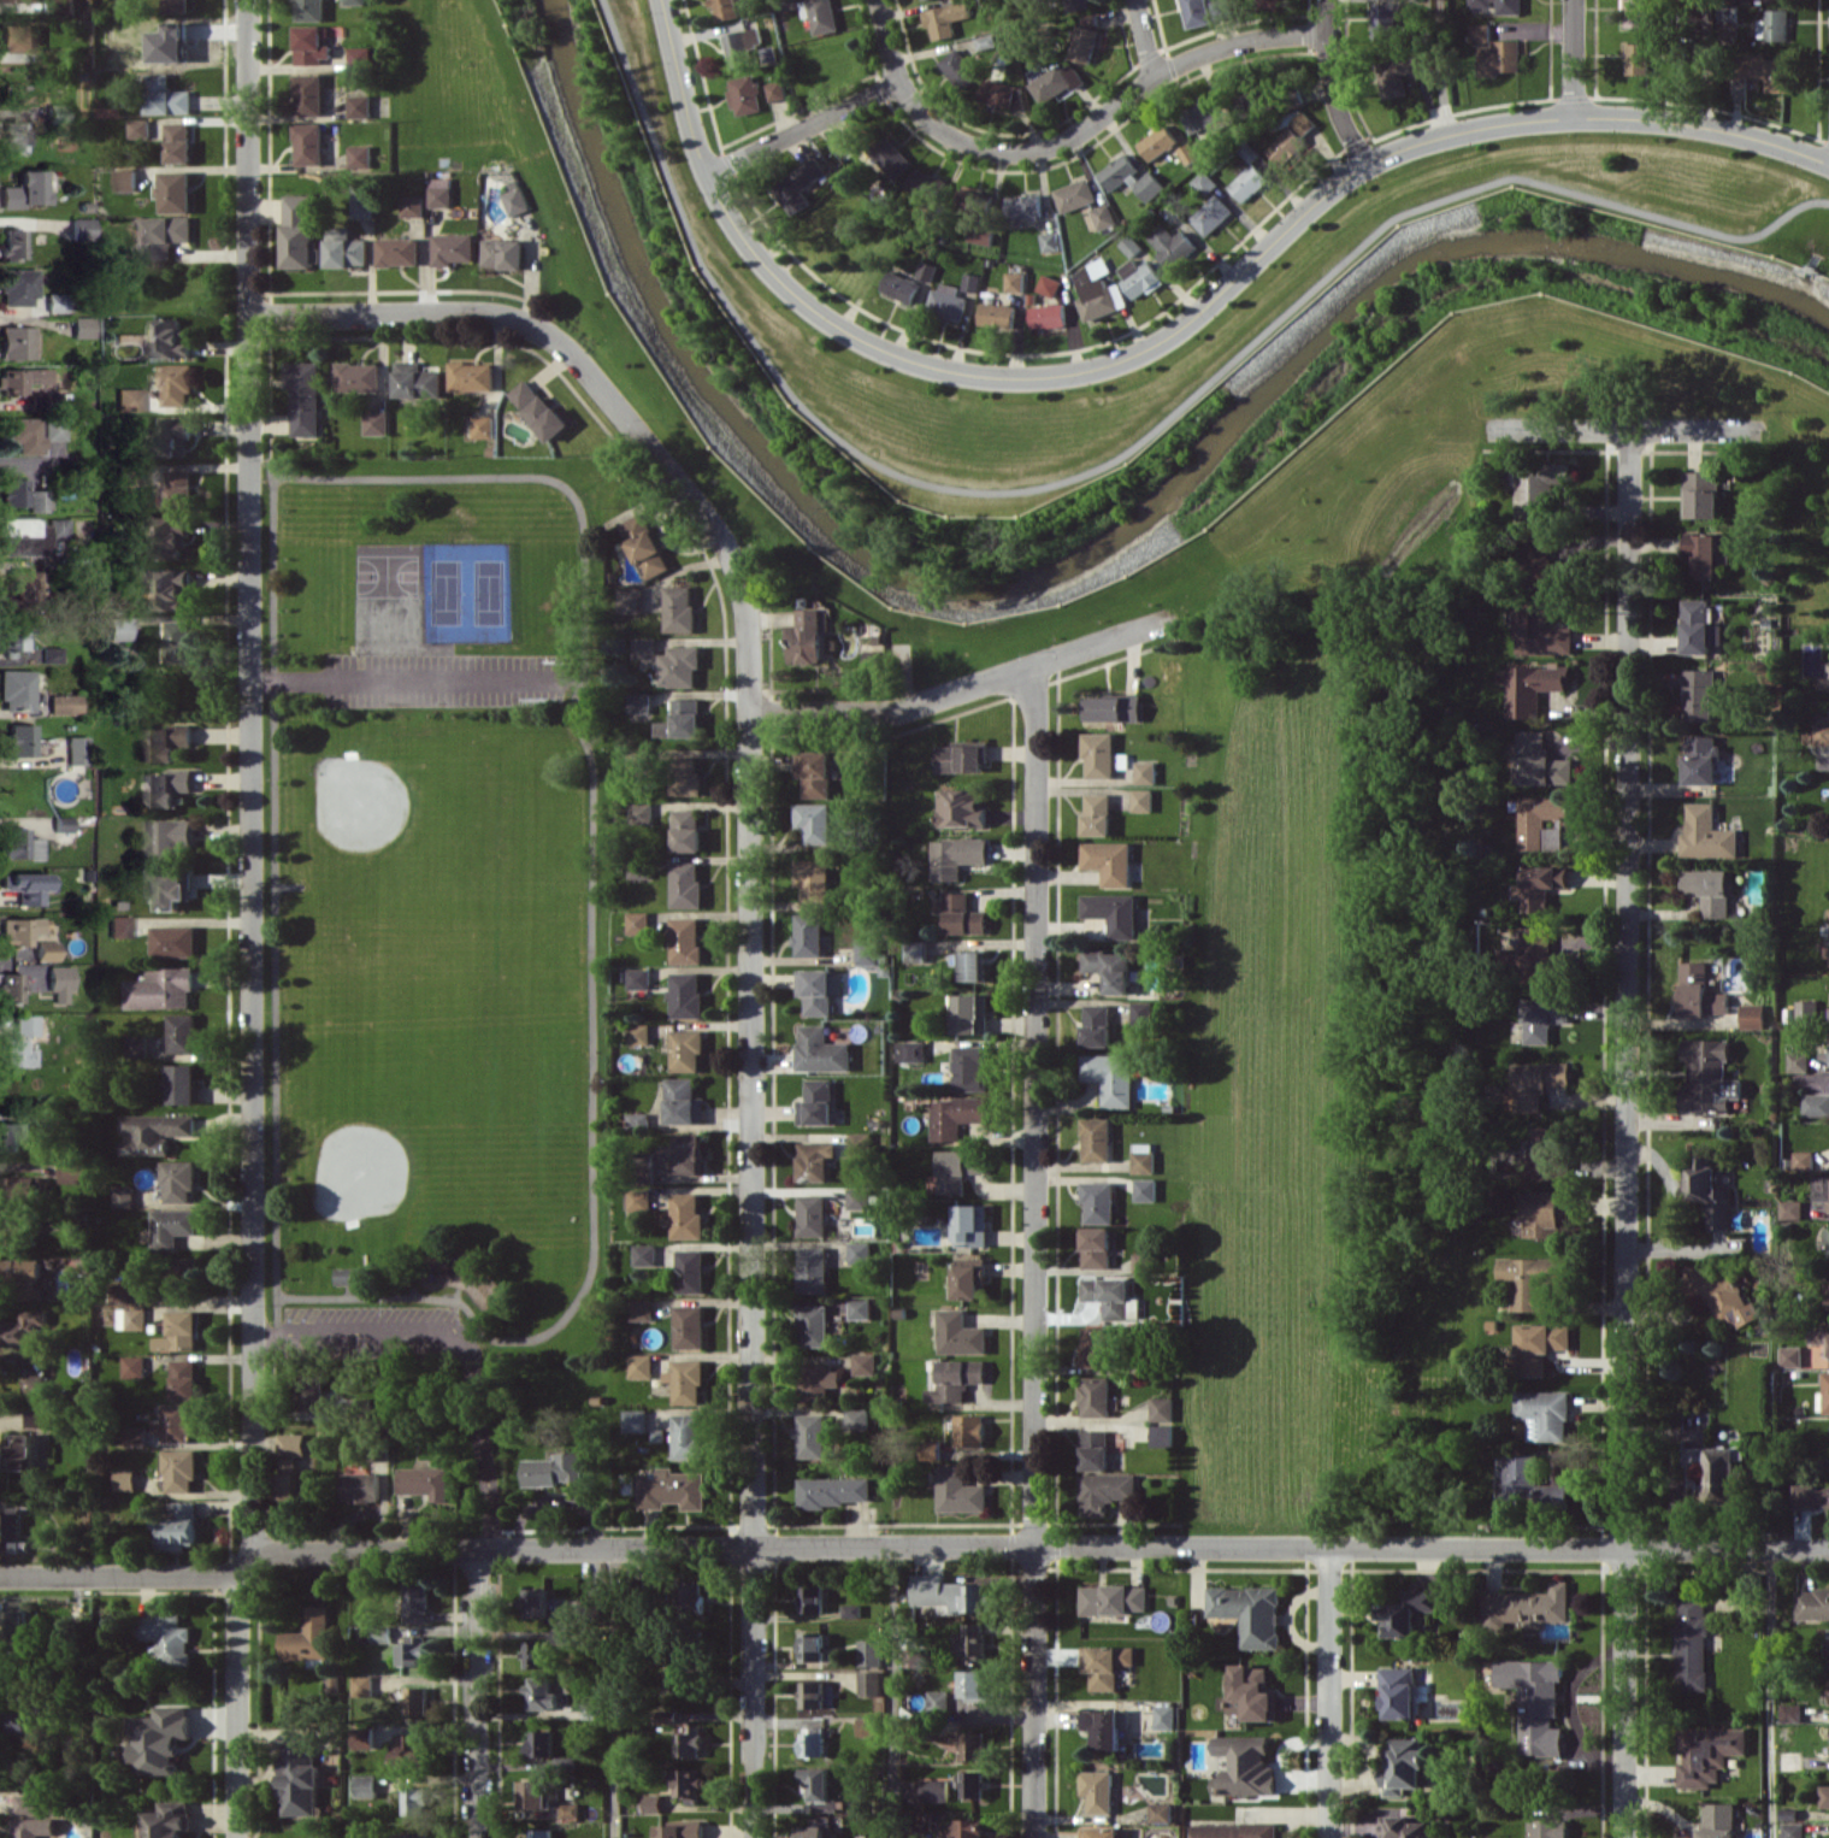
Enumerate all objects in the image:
building: (17, 0)
building: (1784, 0)
building: (354, 1)
building: (1078, 4)
building: (1269, 4)
building: (59, 5)
building: (1499, 5)
building: (177, 6)
building: (728, 8)
building: (1222, 8)
building: (309, 10)
building: (1196, 12)
building: (1639, 12)
building: (821, 14)
building: (1728, 16)
building: (946, 18)
building: (1385, 20)
building: (1772, 23)
building: (1480, 31)
building: (18, 37)
road: (1144, 39)
building: (1085, 40)
road: (889, 41)
building: (170, 42)
building: (309, 45)
building: (743, 46)
building: (359, 55)
building: (1499, 57)
road: (1573, 58)
building: (1638, 58)
road: (1705, 64)
road: (1439, 67)
building: (960, 69)
building: (1766, 70)
building: (1399, 73)
building: (1057, 82)
road: (1332, 86)
building: (778, 90)
building: (1003, 93)
building: (309, 94)
building: (747, 94)
building: (165, 95)
building: (360, 105)
building: (54, 112)
building: (1205, 116)
building: (1303, 123)
building: (138, 128)
building: (12, 137)
building: (178, 142)
building: (1158, 142)
building: (308, 143)
building: (844, 146)
building: (1287, 147)
road: (1011, 152)
building: (1188, 153)
building: (360, 155)
building: (892, 158)
building: (1132, 177)
building: (125, 179)
building: (1205, 182)
building: (1249, 182)
building: (927, 184)
building: (801, 185)
building: (23, 189)
building: (176, 192)
building: (1075, 194)
building: (441, 195)
building: (517, 198)
building: (362, 200)
building: (413, 205)
building: (1023, 206)
building: (980, 213)
building: (1213, 214)
building: (1104, 216)
building: (79, 228)
building: (300, 230)
building: (164, 235)
building: (1051, 241)
building: (11, 243)
building: (1132, 245)
building: (1173, 246)
building: (346, 248)
building: (454, 248)
building: (399, 251)
building: (503, 253)
building: (928, 270)
building: (1140, 277)
building: (1016, 281)
building: (973, 282)
building: (1050, 284)
building: (16, 287)
building: (903, 287)
building: (1099, 290)
building: (950, 301)
building: (998, 314)
building: (1050, 314)
building: (81, 326)
road: (1174, 332)
building: (170, 340)
building: (14, 342)
building: (472, 376)
building: (359, 377)
building: (19, 378)
building: (417, 379)
building: (176, 384)
building: (306, 397)
building: (128, 399)
building: (36, 400)
building: (538, 408)
building: (377, 422)
building: (484, 426)
road: (1628, 430)
building: (52, 431)
building: (24, 435)
building: (172, 436)
road: (1131, 452)
road: (33, 460)
building: (179, 488)
building: (1538, 488)
building: (12, 491)
building: (1701, 494)
building: (37, 500)
building: (57, 526)
building: (22, 536)
building: (171, 536)
building: (1536, 544)
building: (645, 546)
building: (1703, 554)
road: (736, 564)
river: (1080, 565)
park: (391, 569)
building: (1552, 571)
building: (19, 584)
building: (169, 585)
park: (470, 591)
building: (630, 600)
building: (679, 608)
building: (1699, 626)
building: (116, 629)
building: (1541, 630)
building: (390, 635)
building: (5, 637)
building: (808, 637)
building: (179, 642)
building: (644, 647)
building: (51, 654)
building: (874, 658)
building: (680, 666)
road: (408, 681)
parking lot: (447, 681)
building: (1533, 688)
building: (14, 690)
building: (1699, 695)
building: (63, 702)
building: (639, 702)
building: (1115, 707)
building: (682, 720)
building: (1818, 734)
building: (18, 740)
building: (169, 741)
building: (75, 749)
building: (1099, 754)
building: (961, 756)
building: (1701, 759)
building: (1538, 760)
building: (1146, 771)
building: (814, 772)
building: (685, 776)
building: (169, 785)
building: (1143, 800)
building: (962, 807)
building: (641, 813)
building: (1098, 813)
building: (814, 821)
building: (1541, 821)
building: (61, 823)
building: (686, 830)
building: (1706, 833)
building: (169, 838)
building: (18, 843)
park: (421, 852)
building: (956, 856)
building: (1109, 861)
building: (638, 870)
building: (813, 879)
building: (686, 884)
building: (1541, 885)
building: (24, 886)
building: (170, 886)
building: (1709, 890)
building: (1113, 912)
building: (961, 913)
road: (250, 920)
park: (436, 923)
building: (637, 923)
building: (118, 925)
building: (17, 930)
building: (808, 933)
building: (685, 939)
building: (172, 941)
building: (45, 950)
building: (867, 950)
building: (916, 950)
building: (1540, 955)
building: (973, 965)
building: (1110, 968)
building: (638, 978)
building: (59, 982)
building: (10, 986)
building: (160, 988)
building: (819, 989)
building: (1699, 991)
building: (686, 994)
building: (1806, 1009)
building: (1141, 1011)
building: (970, 1013)
building: (1752, 1015)
building: (1544, 1018)
building: (23, 1025)
building: (1097, 1025)
building: (181, 1032)
building: (638, 1033)
building: (135, 1045)
building: (685, 1049)
building: (821, 1049)
building: (910, 1050)
building: (14, 1053)
building: (1798, 1061)
building: (969, 1068)
building: (1709, 1074)
building: (1111, 1077)
building: (181, 1083)
building: (1536, 1083)
building: (683, 1101)
building: (816, 1102)
building: (1816, 1104)
park: (425, 1115)
building: (955, 1115)
building: (637, 1119)
building: (153, 1132)
road: (1626, 1135)
building: (1097, 1139)
building: (860, 1143)
building: (689, 1153)
building: (1547, 1154)
building: (1143, 1157)
building: (1803, 1159)
building: (814, 1160)
building: (958, 1168)
building: (72, 1172)
building: (178, 1180)
building: (18, 1188)
building: (1145, 1189)
building: (1821, 1189)
building: (1709, 1190)
building: (123, 1195)
building: (859, 1197)
building: (639, 1198)
building: (1098, 1201)
building: (1790, 1209)
building: (1545, 1214)
building: (812, 1215)
building: (686, 1217)
building: (970, 1225)
building: (171, 1227)
building: (12, 1236)
building: (1825, 1236)
building: (1096, 1247)
building: (860, 1251)
road: (1033, 1253)
building: (644, 1254)
building: (1828, 1261)
building: (1143, 1262)
building: (813, 1268)
building: (690, 1271)
building: (349, 1274)
road: (753, 1274)
building: (23, 1277)
building: (182, 1277)
building: (969, 1277)
building: (1530, 1279)
building: (119, 1290)
building: (1828, 1294)
building: (1721, 1297)
road: (218, 1302)
building: (860, 1308)
building: (641, 1309)
building: (130, 1318)
building: (813, 1325)
building: (689, 1326)
building: (22, 1329)
parking lot: (371, 1330)
building: (178, 1332)
building: (960, 1333)
building: (1819, 1337)
road: (464, 1341)
building: (1538, 1345)
building: (1093, 1347)
building: (1790, 1356)
building: (865, 1363)
building: (641, 1365)
building: (132, 1366)
building: (183, 1378)
building: (958, 1378)
building: (819, 1380)
building: (686, 1382)
building: (34, 1383)
building: (312, 1391)
building: (1825, 1391)
building: (1095, 1396)
building: (1162, 1408)
building: (1544, 1414)
building: (39, 1418)
building: (857, 1418)
building: (635, 1420)
building: (176, 1422)
building: (969, 1430)
building: (810, 1435)
building: (1162, 1435)
building: (136, 1436)
building: (688, 1436)
building: (291, 1443)
building: (1093, 1449)
building: (179, 1469)
building: (554, 1469)
building: (1715, 1469)
building: (125, 1478)
building: (289, 1479)
building: (426, 1481)
building: (1529, 1483)
building: (361, 1486)
building: (671, 1489)
building: (834, 1490)
building: (958, 1491)
building: (1104, 1491)
building: (1809, 1496)
building: (177, 1526)
road: (939, 1545)
road: (1725, 1547)
road: (120, 1574)
building: (948, 1593)
building: (690, 1596)
building: (812, 1598)
building: (1113, 1598)
building: (417, 1601)
building: (536, 1602)
building: (1811, 1603)
building: (1526, 1607)
building: (850, 1609)
building: (1408, 1610)
building: (1249, 1613)
building: (17, 1626)
building: (166, 1633)
building: (374, 1633)
building: (562, 1634)
building: (308, 1636)
building: (1692, 1642)
building: (972, 1644)
building: (812, 1645)
building: (414, 1650)
building: (536, 1653)
building: (869, 1653)
building: (1825, 1653)
building: (1105, 1663)
building: (671, 1680)
building: (869, 1683)
building: (362, 1685)
building: (974, 1685)
building: (1398, 1691)
building: (542, 1692)
road: (614, 1692)
road: (892, 1692)
building: (1251, 1692)
road: (1770, 1692)
road: (479, 1693)
building: (813, 1693)
road: (1329, 1693)
building: (417, 1699)
building: (937, 1699)
building: (1536, 1702)
building: (1164, 1716)
building: (17, 1719)
building: (867, 1726)
building: (1103, 1727)
building: (362, 1737)
building: (160, 1738)
building: (813, 1740)
building: (690, 1742)
building: (539, 1743)
building: (966, 1743)
building: (409, 1748)
building: (1707, 1754)
building: (1244, 1766)
building: (1404, 1766)
building: (300, 1780)
building: (970, 1783)
building: (690, 1784)
building: (366, 1785)
building: (820, 1789)
building: (934, 1790)
building: (1097, 1790)
building: (536, 1793)
building: (1824, 1796)
building: (415, 1799)
building: (35, 1803)
building: (651, 1803)
building: (570, 1810)
building: (1160, 1812)
building: (169, 1820)
building: (1717, 1820)
building: (35, 1826)
building: (819, 1827)
building: (1403, 1827)
building: (683, 1828)
building: (962, 1828)
building: (1546, 1828)
building: (1233, 1830)
building: (1792, 1830)
building: (1098, 1832)
building: (542, 1833)
building: (417, 1834)

